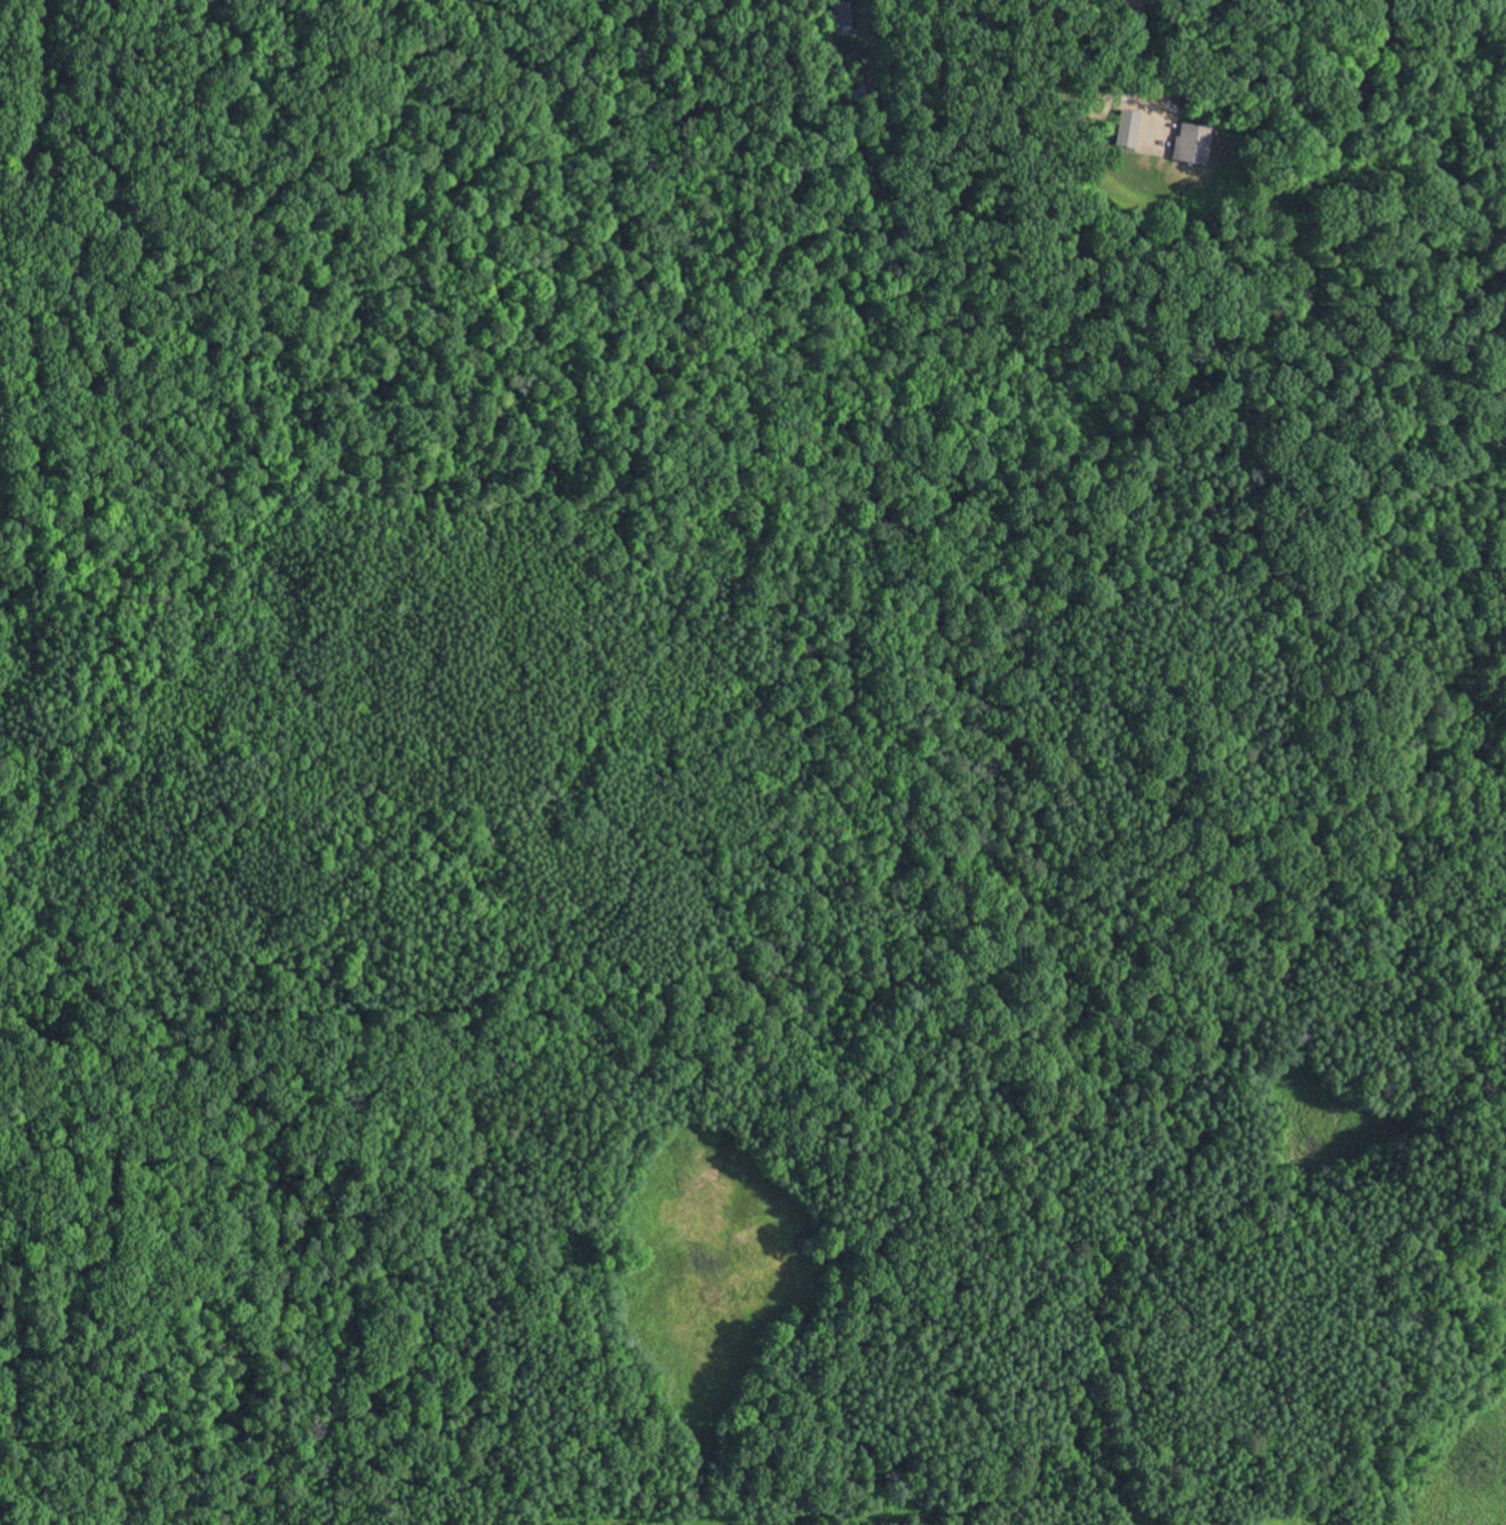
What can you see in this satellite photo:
building: (841, 17)
road: (36, 87)
building: (1192, 144)

